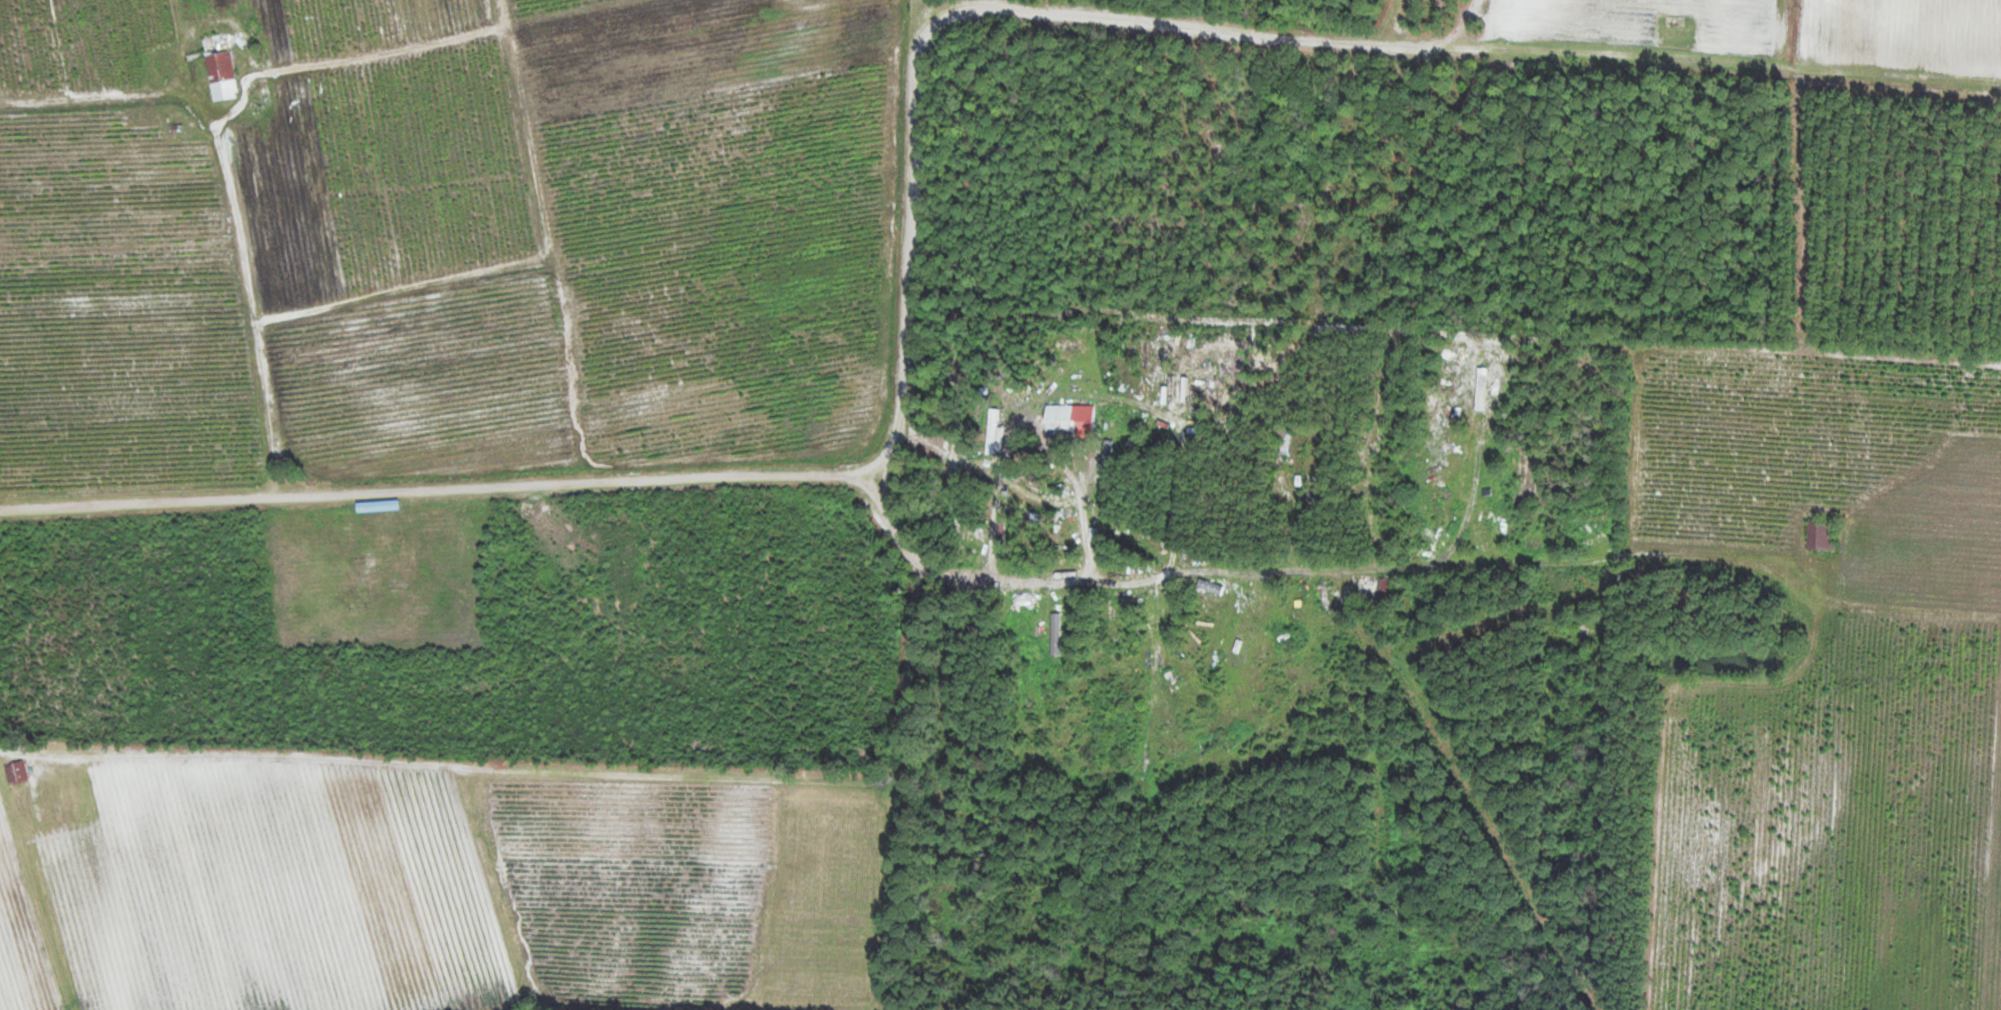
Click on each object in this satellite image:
building: (219, 67)
road: (257, 315)
building: (1068, 421)
building: (1281, 447)
road: (438, 489)
building: (1821, 533)
building: (1064, 535)
road: (929, 566)
building: (1373, 590)
building: (15, 772)

